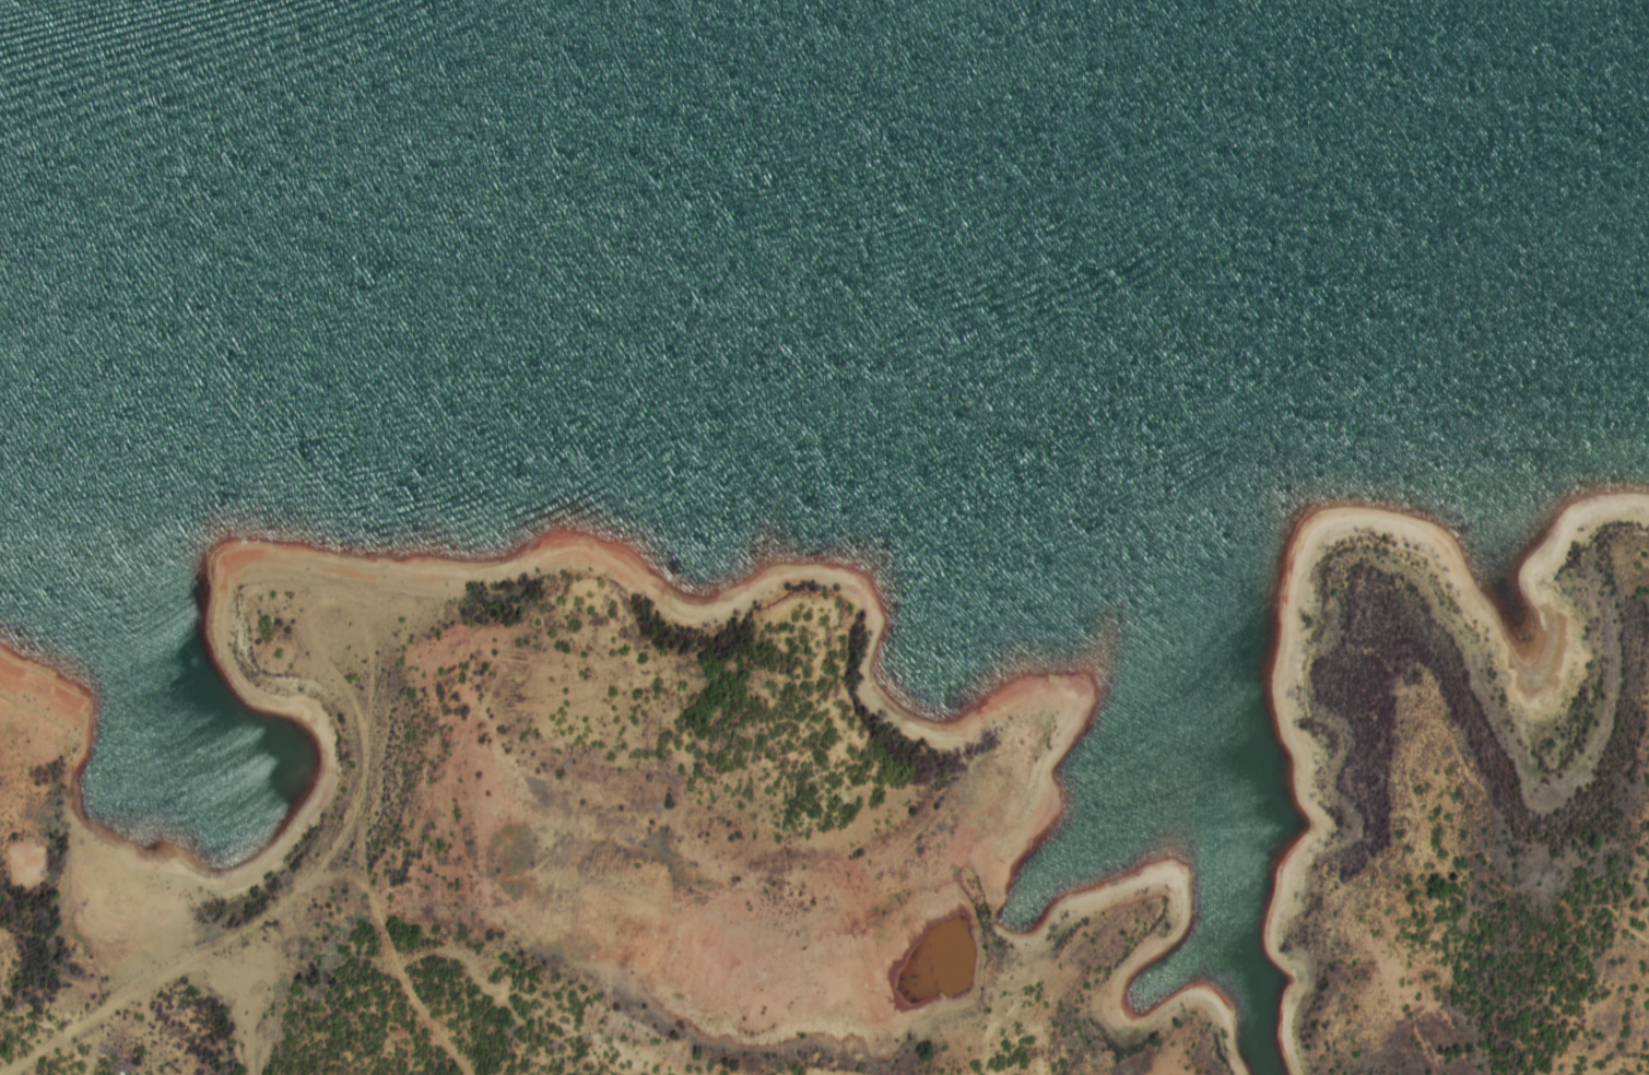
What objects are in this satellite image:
road: (1622, 651)

